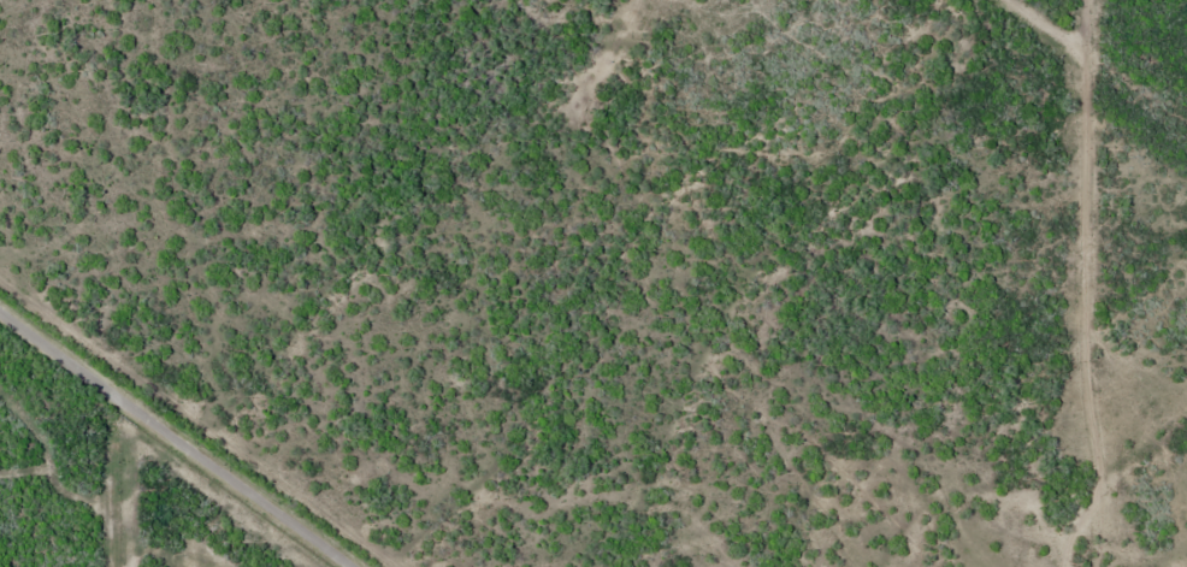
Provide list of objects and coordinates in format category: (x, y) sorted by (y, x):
road: (175, 441)

